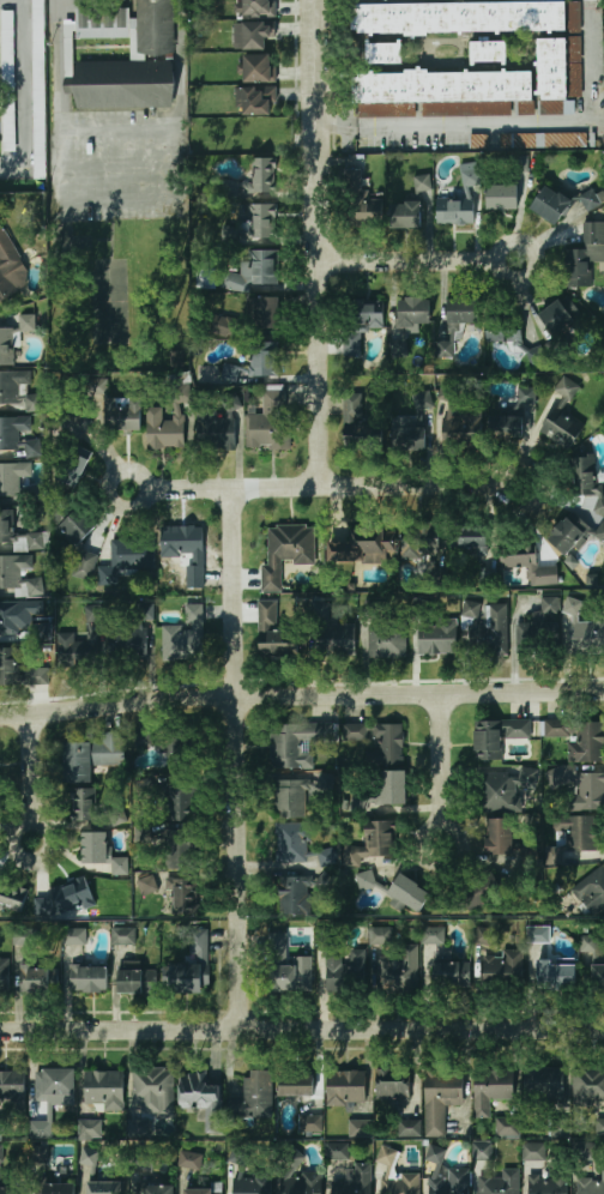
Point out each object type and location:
road: (23, 1)
building: (259, 8)
building: (81, 17)
building: (93, 17)
building: (108, 17)
building: (120, 17)
building: (465, 17)
building: (155, 26)
building: (258, 35)
building: (383, 53)
building: (259, 68)
building: (556, 77)
building: (8, 80)
building: (125, 84)
building: (38, 89)
building: (449, 89)
road: (25, 98)
building: (256, 99)
road: (506, 126)
road: (117, 131)
building: (548, 139)
building: (479, 140)
building: (355, 162)
building: (266, 180)
building: (357, 180)
building: (423, 182)
building: (503, 195)
building: (461, 199)
building: (590, 200)
building: (551, 205)
building: (364, 215)
building: (405, 215)
building: (262, 222)
road: (312, 245)
building: (585, 254)
road: (415, 261)
building: (7, 265)
building: (250, 271)
building: (464, 310)
building: (415, 312)
building: (266, 314)
building: (561, 314)
building: (28, 321)
building: (361, 324)
building: (226, 326)
building: (515, 337)
building: (6, 346)
building: (398, 349)
building: (537, 355)
building: (258, 360)
building: (18, 391)
building: (447, 394)
building: (528, 394)
building: (123, 415)
building: (562, 417)
building: (77, 421)
building: (268, 422)
building: (219, 426)
building: (466, 426)
building: (508, 427)
building: (12, 432)
building: (173, 433)
building: (410, 435)
building: (362, 436)
building: (32, 447)
building: (74, 464)
building: (11, 480)
building: (587, 484)
road: (320, 488)
building: (6, 521)
building: (80, 525)
building: (599, 531)
building: (568, 533)
building: (471, 537)
building: (364, 545)
building: (423, 548)
building: (289, 551)
building: (126, 557)
building: (182, 557)
building: (572, 561)
building: (84, 565)
building: (532, 568)
building: (18, 573)
building: (488, 575)
building: (548, 604)
building: (320, 607)
building: (470, 611)
building: (11, 617)
building: (584, 628)
building: (491, 631)
building: (277, 634)
building: (186, 635)
building: (537, 635)
building: (131, 637)
building: (387, 639)
building: (437, 639)
building: (340, 640)
building: (75, 649)
building: (19, 670)
road: (301, 694)
building: (496, 736)
building: (144, 738)
building: (579, 738)
building: (377, 741)
building: (296, 742)
building: (180, 747)
building: (92, 756)
road: (230, 760)
road: (440, 768)
road: (34, 778)
building: (144, 786)
building: (580, 786)
building: (394, 789)
building: (502, 789)
building: (289, 798)
building: (363, 800)
building: (181, 802)
building: (81, 804)
building: (578, 832)
building: (502, 837)
building: (290, 843)
building: (376, 845)
building: (176, 848)
building: (95, 851)
building: (554, 856)
building: (327, 857)
building: (120, 864)
building: (367, 880)
building: (151, 882)
building: (591, 887)
building: (478, 892)
building: (410, 893)
building: (12, 895)
building: (291, 895)
building: (73, 898)
building: (180, 900)
building: (42, 905)
building: (539, 934)
building: (431, 935)
building: (74, 936)
building: (122, 936)
building: (377, 936)
building: (485, 936)
building: (23, 937)
building: (590, 945)
building: (276, 948)
building: (192, 966)
building: (344, 969)
building: (503, 969)
building: (398, 970)
building: (451, 973)
building: (4, 976)
building: (556, 976)
building: (597, 977)
building: (89, 978)
building: (38, 979)
building: (283, 979)
building: (135, 982)
road: (302, 1031)
building: (543, 1084)
building: (54, 1085)
building: (587, 1085)
building: (394, 1086)
building: (345, 1087)
building: (105, 1089)
building: (300, 1089)
building: (13, 1090)
building: (153, 1090)
building: (491, 1090)
building: (253, 1097)
building: (201, 1098)
building: (440, 1098)
building: (309, 1123)
building: (561, 1126)
building: (508, 1127)
building: (599, 1127)
building: (42, 1128)
building: (90, 1128)
building: (140, 1128)
building: (361, 1128)
building: (410, 1128)
building: (483, 1150)
building: (338, 1151)
building: (534, 1151)
building: (586, 1151)
building: (41, 1153)
building: (89, 1157)
building: (388, 1159)
building: (189, 1160)
building: (355, 1181)
building: (449, 1181)
building: (499, 1182)
building: (400, 1183)
building: (548, 1183)
building: (252, 1184)
building: (301, 1184)
building: (591, 1184)
building: (107, 1187)
building: (56, 1189)
building: (205, 1189)
building: (12, 1190)
building: (163, 1193)

